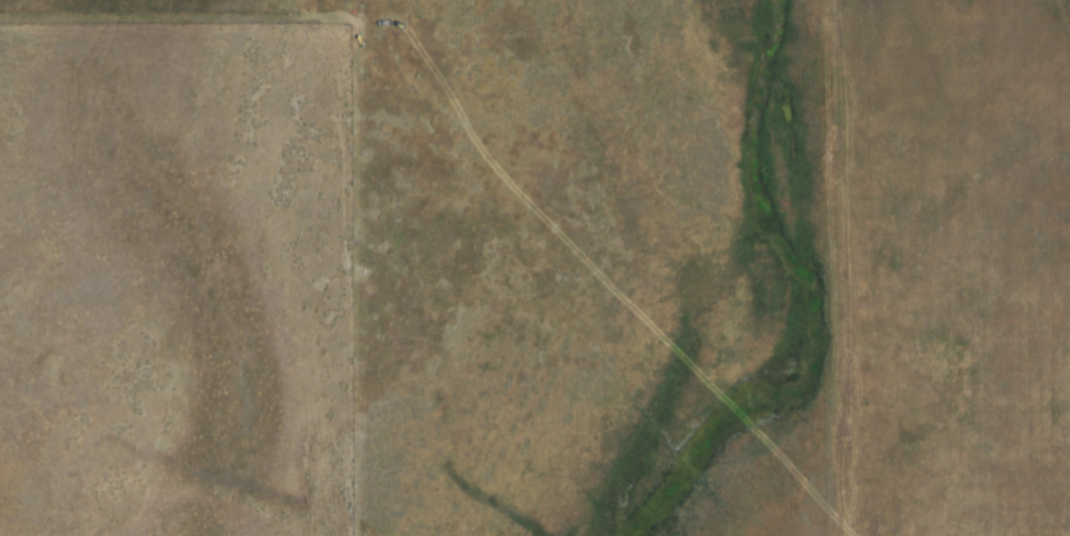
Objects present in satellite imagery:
crop: (951, 267)

